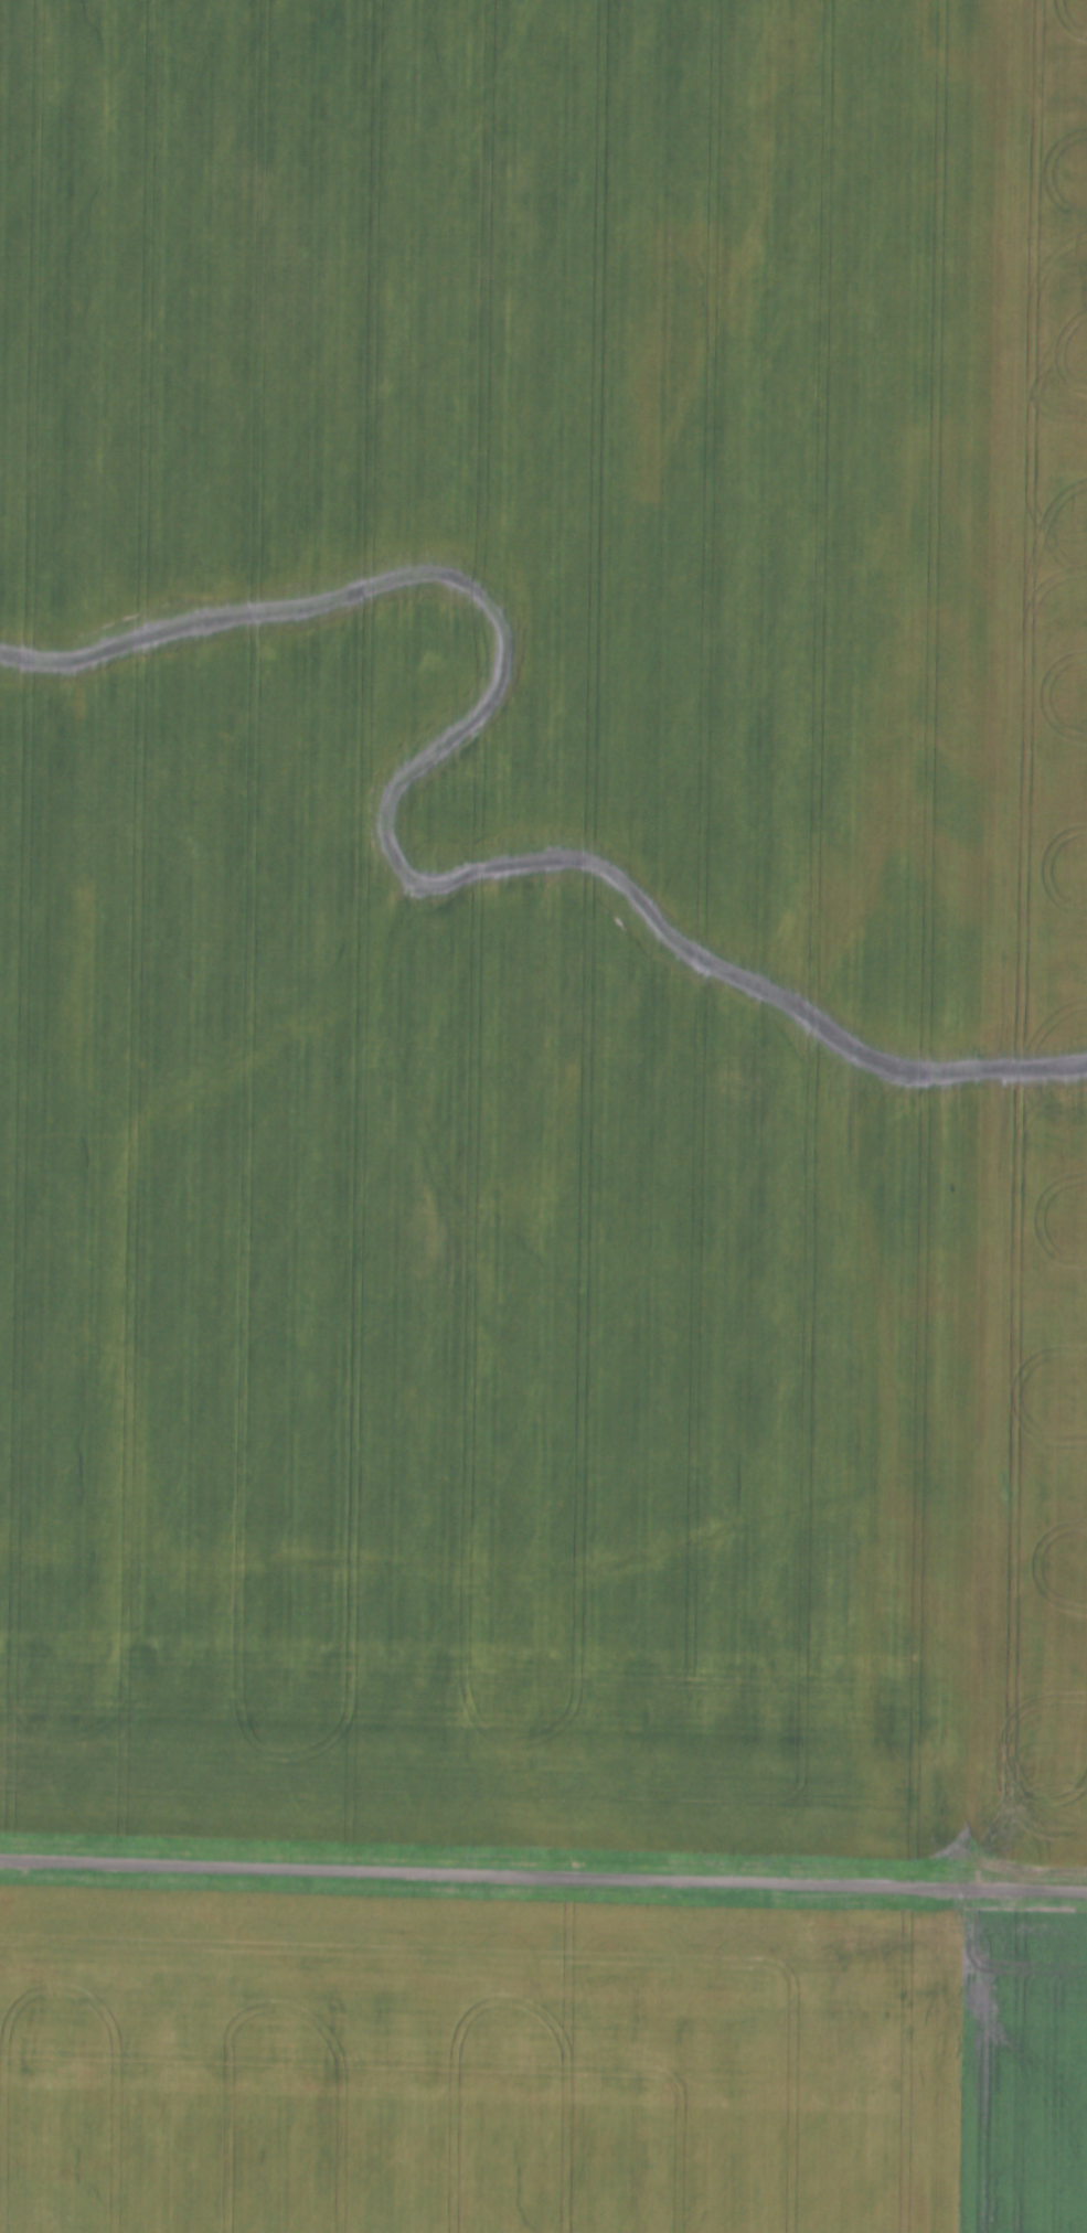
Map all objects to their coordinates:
road: (543, 1874)

